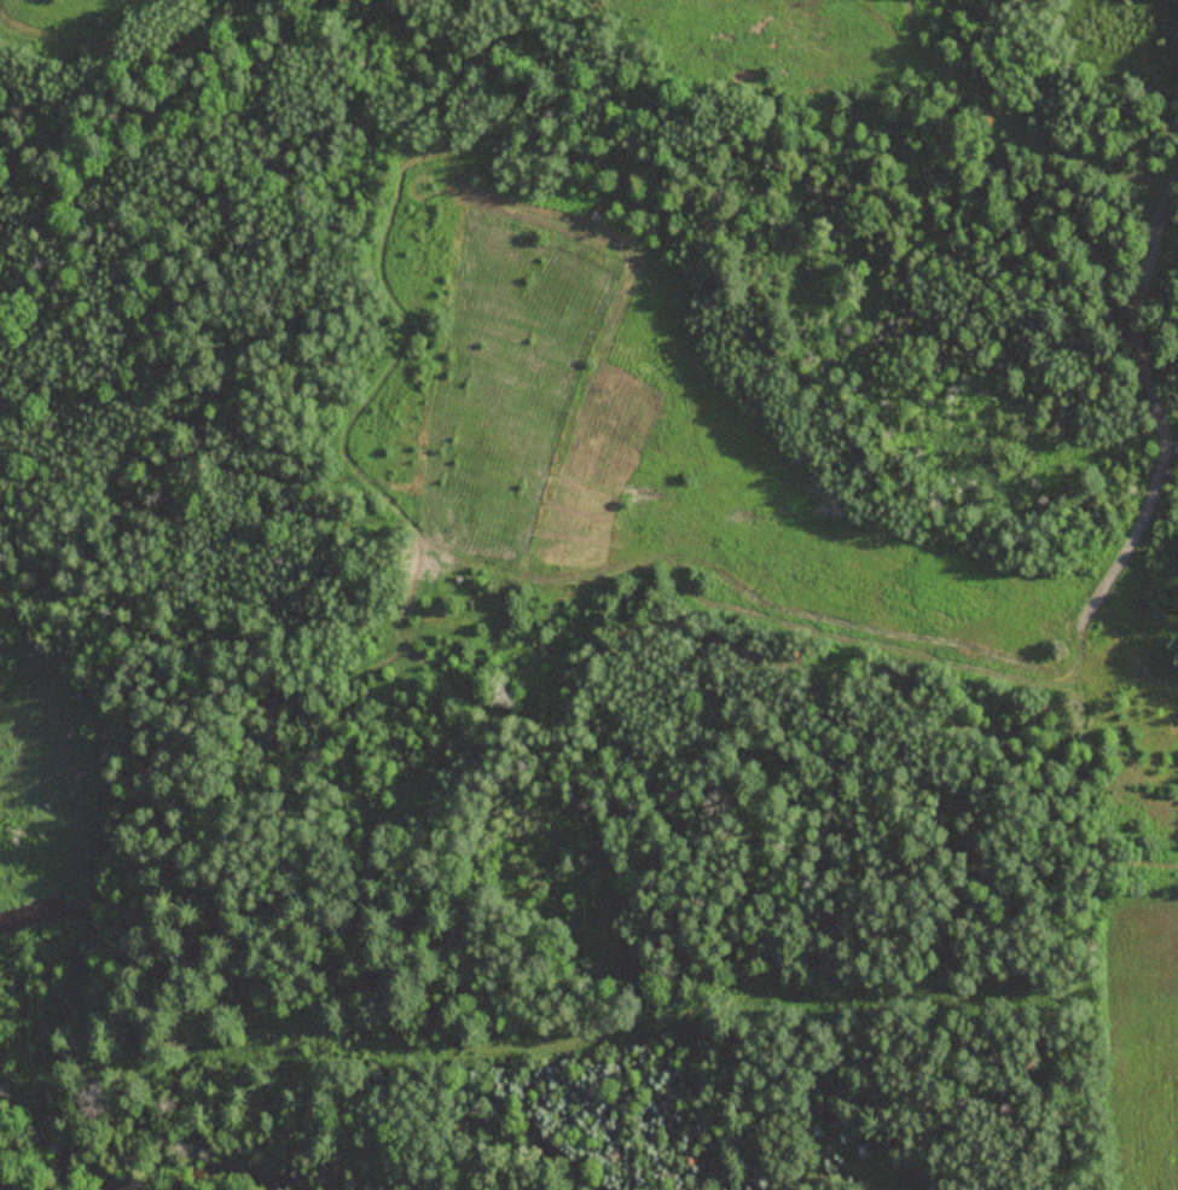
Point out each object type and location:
river: (77, 1024)
river: (237, 1174)

